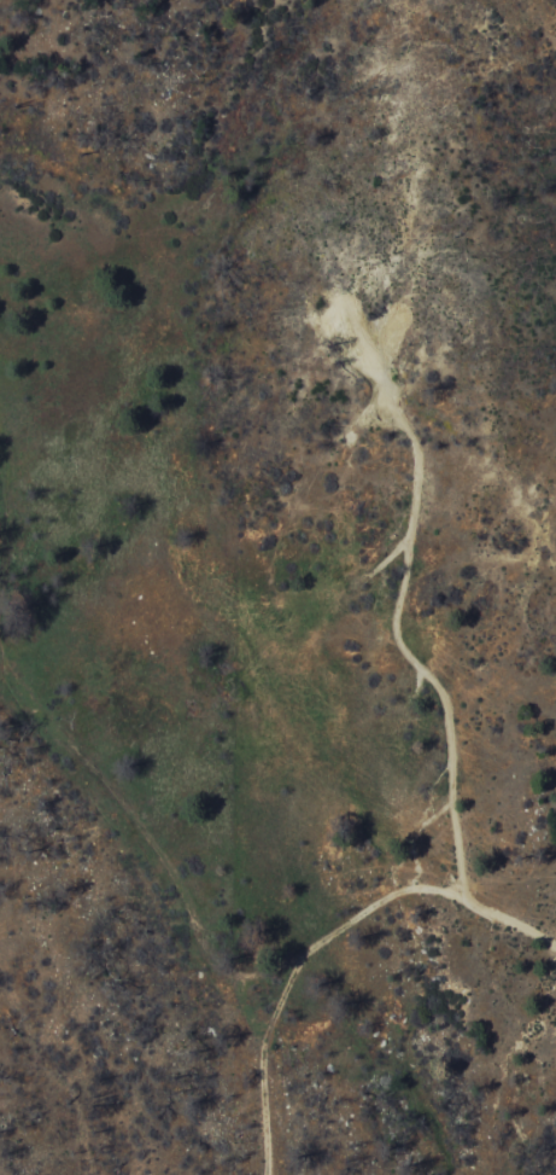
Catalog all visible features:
road: (406, 655)
road: (4, 656)
road: (123, 815)
road: (379, 907)
road: (265, 972)

